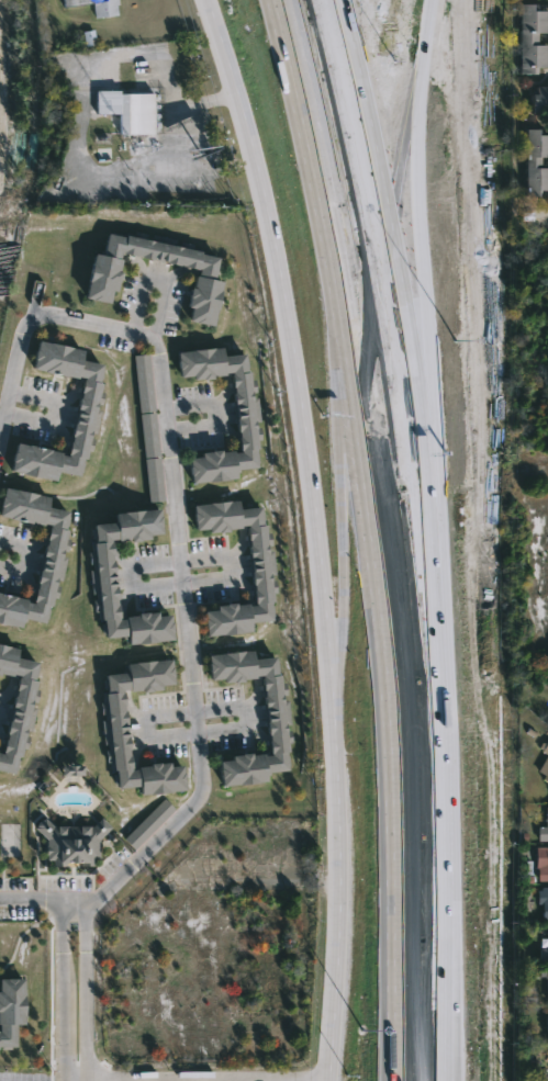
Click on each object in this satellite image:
building: (96, 5)
road: (278, 9)
building: (528, 37)
building: (538, 100)
building: (127, 110)
road: (414, 113)
building: (533, 161)
building: (171, 169)
road: (539, 221)
road: (313, 227)
road: (336, 252)
building: (102, 278)
road: (290, 330)
road: (417, 362)
building: (143, 382)
building: (87, 407)
building: (247, 412)
building: (148, 435)
park: (529, 460)
building: (153, 480)
road: (174, 489)
road: (424, 537)
road: (346, 538)
building: (53, 561)
building: (261, 563)
road: (127, 575)
building: (101, 579)
building: (18, 707)
building: (278, 712)
building: (112, 729)
road: (194, 729)
building: (544, 761)
building: (72, 770)
road: (349, 776)
road: (393, 786)
road: (333, 790)
building: (148, 824)
building: (544, 829)
building: (71, 843)
building: (541, 864)
road: (16, 898)
road: (94, 898)
building: (544, 902)
building: (547, 931)
building: (547, 945)
building: (540, 955)
building: (546, 983)
road: (60, 989)
road: (83, 989)
road: (334, 996)
building: (547, 1002)
building: (10, 1009)
building: (546, 1024)
road: (318, 1070)
road: (145, 1079)

